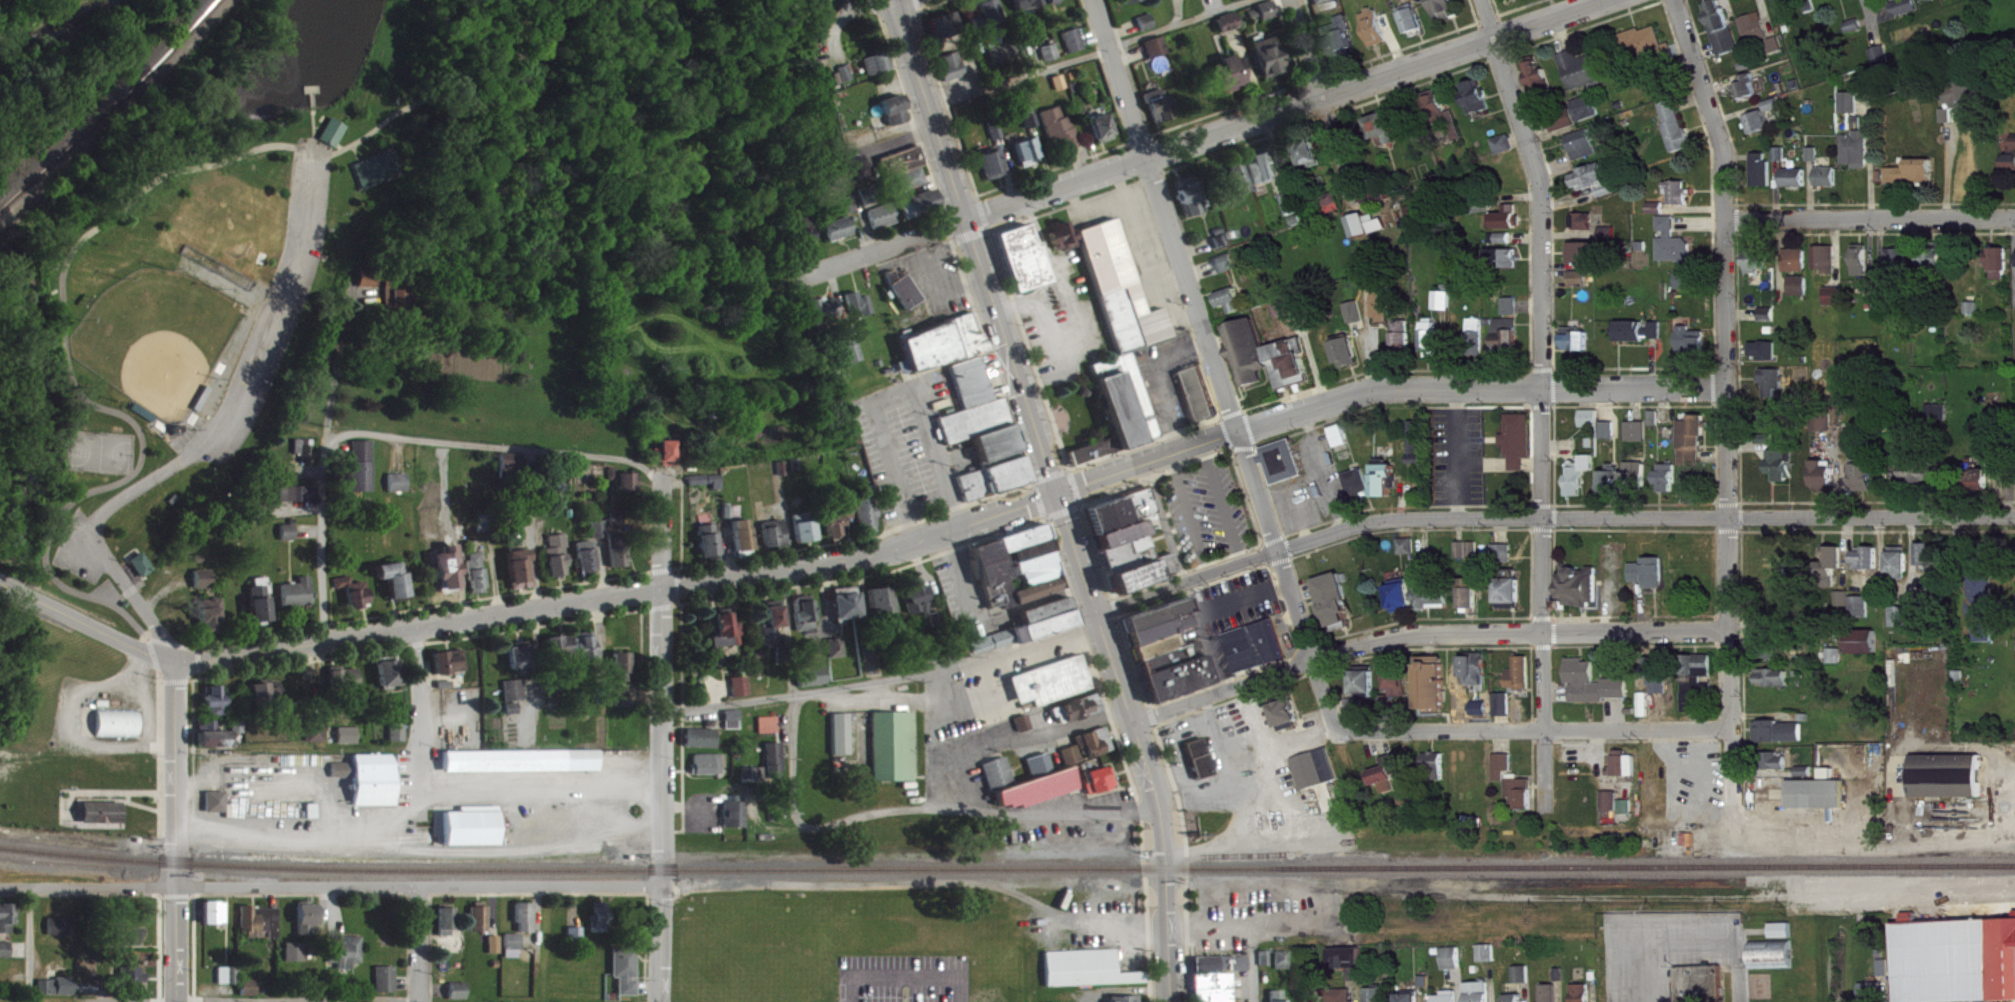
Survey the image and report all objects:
building: (820, 0)
building: (1051, 0)
building: (1022, 2)
building: (1784, 2)
road: (936, 3)
building: (1809, 4)
building: (1904, 4)
building: (1131, 5)
building: (1324, 5)
road: (1496, 6)
road: (1871, 6)
road: (1513, 8)
road: (1474, 10)
road: (1884, 10)
road: (1177, 11)
building: (1447, 13)
building: (1908, 14)
road: (1767, 17)
building: (1269, 18)
road: (1312, 18)
road: (1113, 21)
building: (988, 22)
road: (1178, 22)
building: (1754, 24)
road: (1092, 25)
building: (1414, 26)
building: (1147, 30)
building: (1229, 30)
building: (945, 32)
road: (1092, 32)
building: (1376, 35)
building: (1724, 35)
building: (1072, 37)
road: (1289, 40)
building: (1764, 41)
building: (1774, 41)
building: (1343, 44)
building: (1048, 48)
building: (1075, 48)
road: (1307, 49)
building: (1645, 51)
building: (1157, 55)
building: (1052, 60)
building: (1003, 61)
building: (1883, 63)
building: (1270, 65)
building: (877, 72)
building: (952, 74)
building: (1582, 78)
building: (845, 81)
building: (1231, 81)
building: (1540, 84)
building: (1750, 95)
road: (428, 99)
railway: (116, 101)
building: (1961, 105)
building: (1480, 106)
road: (929, 109)
building: (1852, 111)
building: (1159, 113)
building: (1775, 113)
building: (1590, 116)
building: (896, 118)
building: (1031, 128)
building: (1566, 130)
building: (1761, 130)
building: (1678, 134)
building: (1104, 136)
building: (1060, 137)
building: (1385, 137)
road: (1200, 139)
building: (335, 140)
building: (1454, 140)
road: (1334, 145)
road: (322, 150)
building: (1507, 152)
building: (1584, 152)
building: (1859, 157)
building: (1029, 160)
building: (1310, 160)
building: (1783, 162)
building: (1816, 162)
building: (903, 169)
building: (2011, 170)
building: (993, 173)
building: (381, 177)
building: (1263, 178)
building: (1764, 178)
building: (1915, 180)
building: (1830, 185)
building: (1797, 186)
building: (911, 187)
building: (1598, 187)
building: (1240, 188)
railway: (5, 199)
building: (1680, 200)
building: (868, 204)
road: (1103, 204)
building: (1191, 204)
building: (1334, 211)
building: (847, 212)
building: (918, 212)
building: (1294, 212)
building: (1659, 216)
road: (1871, 219)
building: (883, 224)
building: (1507, 226)
building: (1586, 230)
building: (1369, 233)
building: (838, 237)
building: (1610, 240)
building: (1064, 244)
building: (1504, 245)
park: (405, 249)
building: (1223, 249)
building: (1674, 250)
road: (1142, 255)
building: (1584, 260)
building: (1507, 265)
building: (1023, 266)
building: (1932, 266)
building: (1761, 267)
building: (1828, 267)
building: (1799, 268)
building: (1864, 268)
building: (1900, 269)
building: (1227, 272)
building: (2002, 272)
building: (368, 286)
building: (1581, 286)
building: (1688, 288)
building: (1872, 292)
building: (1802, 294)
building: (905, 298)
building: (1122, 298)
building: (1887, 298)
building: (401, 299)
parking lot: (276, 304)
building: (1836, 304)
road: (1171, 308)
building: (1233, 308)
building: (1444, 308)
building: (1384, 310)
building: (1297, 311)
building: (860, 312)
building: (1512, 314)
building: (826, 316)
building: (1974, 316)
building: (1357, 320)
building: (1770, 322)
park: (155, 336)
building: (1657, 338)
road: (1368, 339)
building: (1632, 339)
building: (1478, 342)
building: (1509, 342)
building: (1405, 343)
building: (1434, 346)
building: (945, 351)
building: (1694, 351)
building: (1766, 358)
building: (854, 359)
building: (1250, 359)
building: (1349, 360)
road: (1728, 360)
road: (1213, 366)
building: (1292, 372)
road: (333, 373)
road: (69, 377)
building: (1774, 390)
road: (1539, 397)
building: (1199, 402)
building: (1126, 409)
building: (1941, 424)
building: (1591, 426)
building: (1655, 426)
building: (1826, 431)
road: (213, 435)
building: (1609, 438)
building: (1638, 439)
building: (984, 442)
building: (1341, 443)
road: (490, 445)
building: (1770, 446)
building: (1519, 448)
building: (1694, 448)
building: (1418, 450)
building: (1854, 450)
park: (98, 451)
building: (305, 458)
building: (1094, 459)
building: (667, 461)
building: (1285, 470)
building: (512, 472)
building: (1784, 473)
building: (363, 474)
building: (1923, 481)
building: (1580, 483)
building: (1637, 483)
building: (1826, 484)
building: (1866, 485)
building: (1387, 486)
building: (1669, 486)
building: (623, 487)
building: (708, 489)
building: (1610, 489)
building: (1984, 489)
building: (399, 491)
building: (1360, 491)
building: (298, 502)
road: (1221, 505)
road: (1187, 516)
building: (732, 520)
road: (1544, 521)
building: (868, 523)
building: (619, 526)
building: (840, 527)
road: (530, 529)
building: (482, 532)
building: (1124, 533)
building: (805, 535)
building: (600, 537)
building: (289, 540)
building: (459, 541)
building: (774, 541)
building: (743, 543)
building: (709, 548)
road: (320, 549)
road: (872, 550)
building: (1408, 554)
building: (618, 557)
building: (1469, 558)
building: (558, 563)
building: (587, 564)
building: (1835, 565)
building: (1929, 565)
building: (1869, 567)
building: (1901, 568)
building: (142, 573)
building: (450, 576)
building: (1019, 576)
building: (521, 577)
building: (1651, 580)
building: (478, 581)
building: (204, 587)
building: (395, 588)
road: (8, 591)
building: (1581, 596)
building: (355, 600)
building: (299, 601)
building: (1473, 601)
building: (1513, 601)
building: (1404, 603)
road: (1088, 607)
building: (1436, 608)
building: (1843, 608)
building: (261, 609)
building: (881, 609)
building: (920, 609)
building: (1338, 610)
building: (846, 611)
building: (1861, 615)
building: (1986, 617)
building: (805, 621)
building: (211, 623)
building: (1901, 625)
building: (1046, 628)
building: (773, 631)
road: (247, 635)
road: (1423, 635)
road: (147, 636)
road: (145, 637)
building: (726, 638)
road: (165, 641)
road: (189, 643)
building: (992, 650)
building: (1863, 650)
road: (151, 654)
building: (561, 654)
building: (589, 654)
building: (1258, 654)
building: (836, 656)
road: (195, 659)
building: (873, 659)
building: (1168, 659)
road: (986, 661)
building: (521, 664)
building: (1835, 664)
road: (255, 668)
building: (451, 670)
building: (623, 674)
road: (197, 675)
road: (174, 679)
road: (160, 681)
building: (390, 681)
building: (1522, 682)
building: (813, 684)
building: (346, 686)
building: (1775, 686)
road: (818, 688)
building: (1400, 688)
building: (1052, 689)
building: (1698, 690)
building: (1434, 691)
building: (1594, 691)
building: (1662, 691)
building: (1366, 692)
road: (419, 694)
building: (742, 694)
building: (515, 698)
building: (266, 701)
building: (620, 705)
building: (216, 709)
building: (1504, 712)
building: (1645, 712)
building: (514, 716)
building: (1483, 716)
building: (1079, 717)
building: (1356, 717)
building: (1290, 723)
building: (734, 728)
road: (1533, 729)
building: (118, 731)
building: (1023, 731)
building: (770, 733)
building: (313, 735)
road: (1016, 738)
building: (398, 740)
building: (1779, 740)
road: (664, 741)
building: (1232, 741)
building: (841, 742)
building: (348, 743)
building: (214, 744)
building: (702, 746)
building: (1096, 750)
building: (894, 755)
road: (1730, 755)
building: (1071, 762)
building: (1201, 767)
building: (522, 769)
building: (1777, 769)
building: (710, 772)
building: (1039, 772)
building: (1624, 772)
building: (770, 773)
building: (1438, 774)
building: (1504, 774)
building: (1318, 777)
building: (343, 778)
building: (998, 781)
building: (1390, 782)
building: (1948, 784)
building: (375, 788)
building: (1100, 788)
building: (1038, 797)
building: (1522, 801)
building: (1818, 802)
building: (1611, 809)
building: (217, 810)
building: (1626, 815)
road: (1090, 816)
road: (841, 817)
building: (104, 821)
building: (736, 821)
road: (175, 833)
building: (473, 834)
road: (160, 836)
railway: (1007, 867)
road: (541, 885)
road: (210, 887)
building: (215, 921)
building: (8, 925)
building: (527, 925)
building: (601, 925)
building: (480, 926)
building: (308, 927)
building: (261, 928)
building: (447, 930)
building: (62, 935)
building: (1784, 938)
building: (133, 942)
building: (577, 942)
road: (1682, 942)
road: (422, 944)
road: (27, 945)
building: (496, 953)
building: (514, 954)
building: (6, 958)
building: (296, 960)
building: (1488, 961)
building: (1775, 963)
building: (1957, 965)
building: (1454, 966)
building: (1348, 967)
building: (1284, 968)
building: (1222, 972)
road: (903, 975)
building: (1886, 976)
building: (1089, 977)
building: (627, 978)
parking lot: (902, 978)
building: (1524, 983)
building: (229, 984)
building: (387, 987)
building: (1702, 988)
building: (1215, 991)
building: (56, 994)
building: (87, 995)
building: (250, 995)
building: (459, 996)
building: (1482, 996)
building: (1873, 996)
building: (1552, 997)
building: (1584, 997)
road: (298, 998)
building: (1379, 999)
building: (1278, 1000)
building: (1414, 1001)
building: (1451, 1001)

